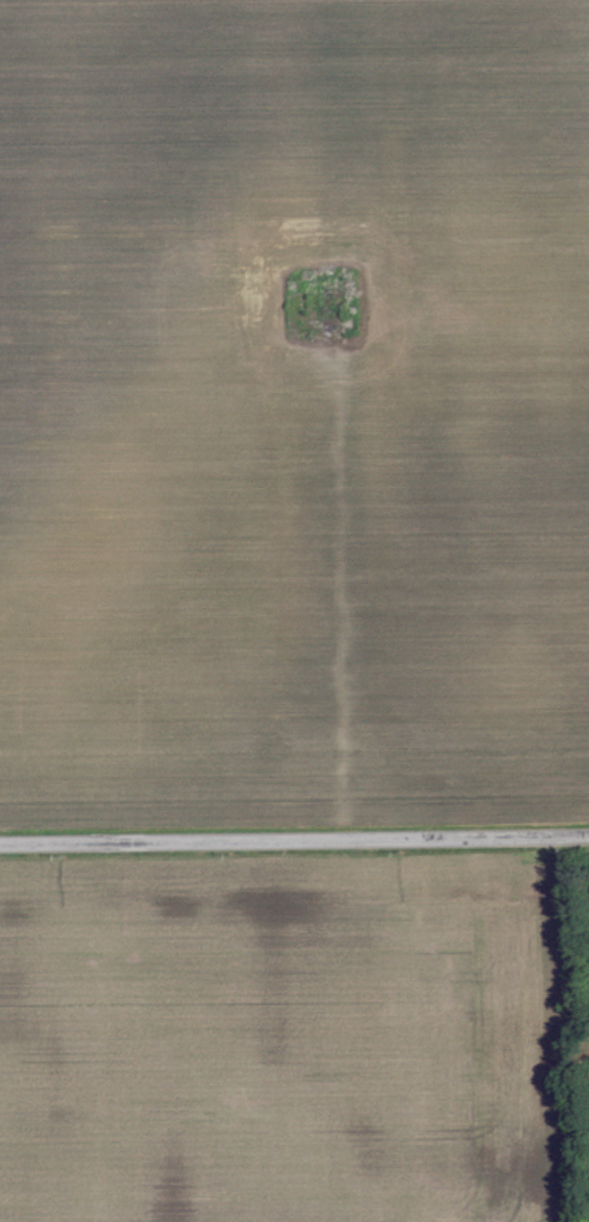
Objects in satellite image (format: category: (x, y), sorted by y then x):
road: (294, 839)
crop: (283, 1040)

